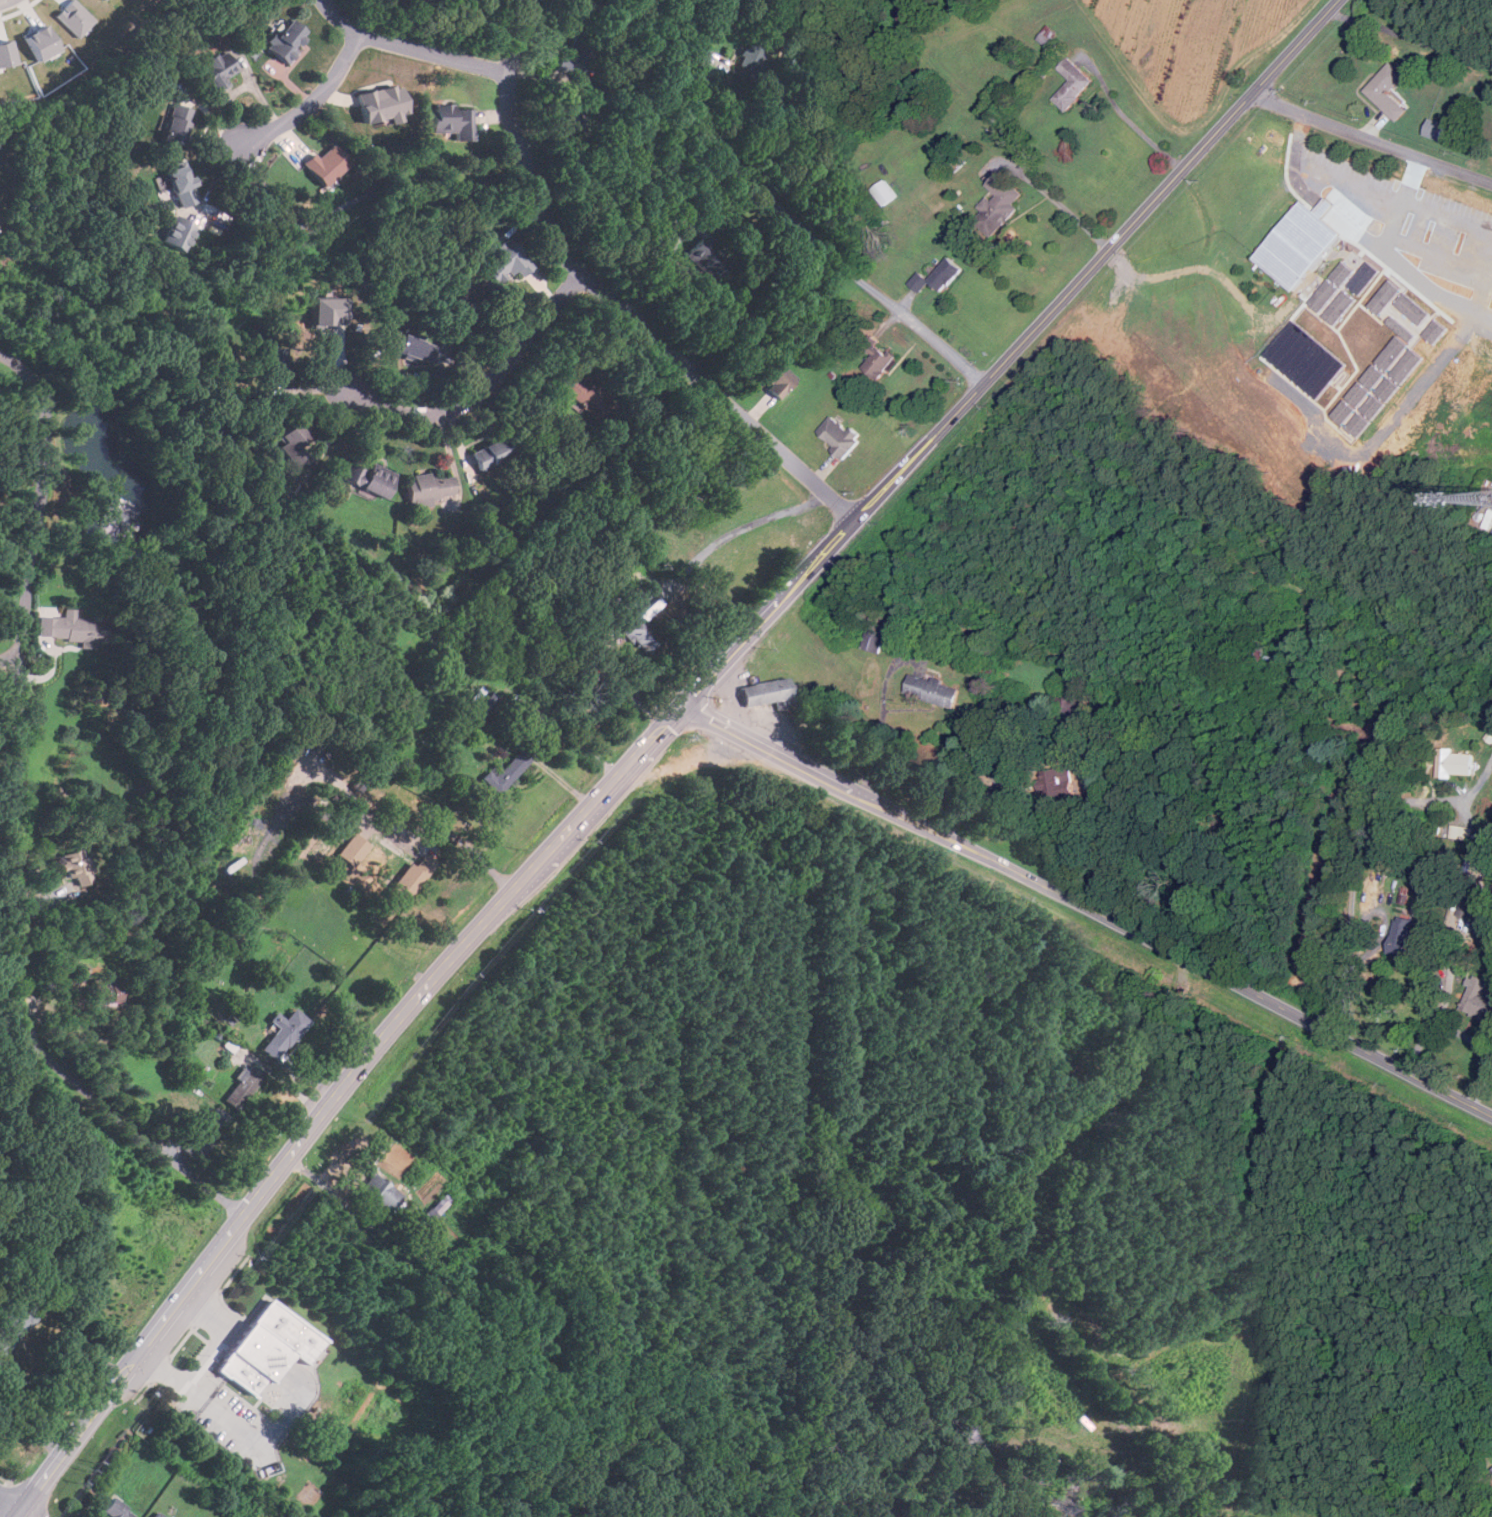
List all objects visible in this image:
building: (412, 2)
building: (611, 12)
building: (76, 17)
building: (1048, 35)
road: (1411, 39)
building: (287, 40)
building: (41, 42)
road: (411, 47)
building: (6, 53)
building: (578, 54)
building: (218, 69)
building: (1072, 84)
building: (1386, 91)
road: (312, 102)
building: (384, 102)
building: (453, 119)
building: (568, 119)
building: (176, 123)
building: (1434, 129)
road: (1138, 130)
road: (1372, 138)
building: (325, 164)
building: (181, 184)
building: (884, 193)
road: (1357, 201)
building: (999, 202)
road: (1060, 204)
road: (788, 213)
road: (1457, 216)
building: (177, 232)
building: (1299, 245)
building: (706, 260)
building: (503, 264)
building: (946, 274)
building: (1342, 274)
building: (1364, 278)
building: (919, 281)
building: (1324, 295)
building: (1385, 297)
road: (609, 298)
building: (457, 300)
building: (1340, 307)
building: (1414, 308)
building: (326, 312)
building: (1402, 328)
building: (1437, 331)
building: (415, 348)
building: (1393, 353)
building: (1306, 359)
building: (882, 362)
building: (273, 365)
building: (1408, 366)
building: (775, 378)
road: (484, 388)
building: (1389, 389)
building: (585, 396)
building: (1363, 397)
building: (1359, 424)
building: (840, 436)
building: (292, 443)
building: (492, 453)
building: (369, 478)
building: (430, 487)
road: (10, 586)
building: (70, 628)
building: (641, 636)
building: (873, 640)
road: (510, 689)
building: (932, 690)
building: (765, 692)
building: (480, 702)
traffic signals: (687, 705)
road: (883, 713)
road: (558, 729)
road: (655, 739)
road: (525, 751)
building: (1455, 763)
building: (508, 769)
road: (562, 781)
road: (1361, 817)
road: (18, 823)
building: (1462, 832)
road: (465, 844)
building: (353, 850)
building: (75, 868)
building: (409, 880)
building: (1472, 901)
road: (1089, 910)
building: (1403, 937)
road: (1355, 966)
building: (108, 992)
building: (1479, 1000)
road: (1443, 1007)
building: (283, 1033)
road: (1485, 1051)
building: (244, 1087)
building: (207, 1132)
building: (381, 1192)
building: (437, 1207)
building: (15, 1322)
road: (226, 1336)
building: (268, 1348)
road: (42, 1378)
road: (173, 1378)
building: (969, 1430)
road: (271, 1436)
building: (1491, 1468)
building: (271, 1469)
road: (16, 1504)
building: (114, 1510)
building: (158, 1515)

